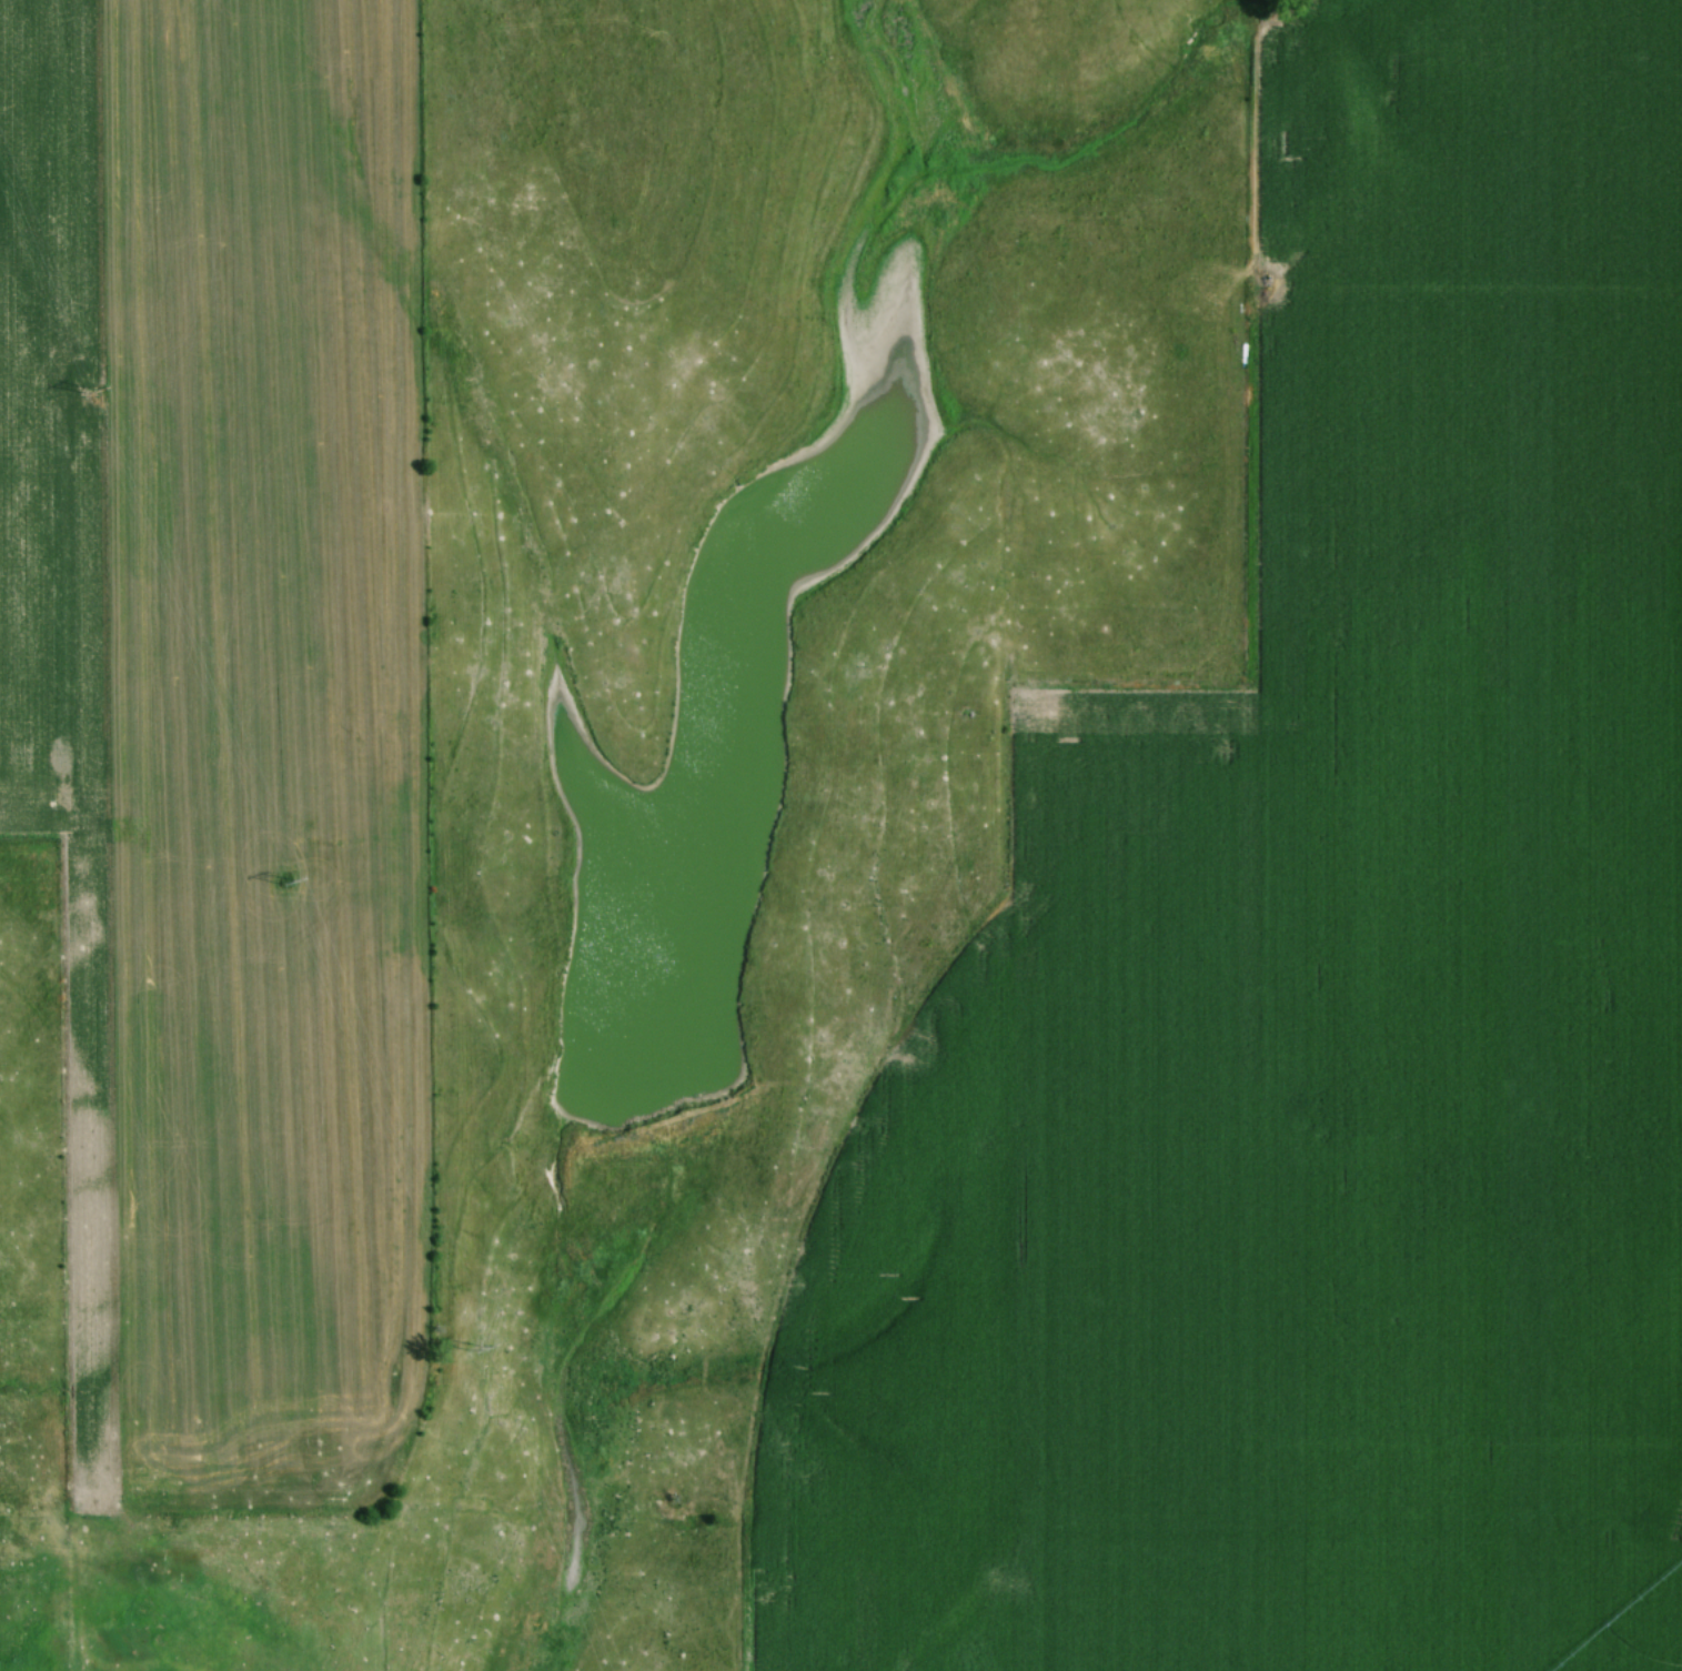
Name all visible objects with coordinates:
power tower: (89, 399)
power tower: (285, 883)
power tower: (472, 1341)

